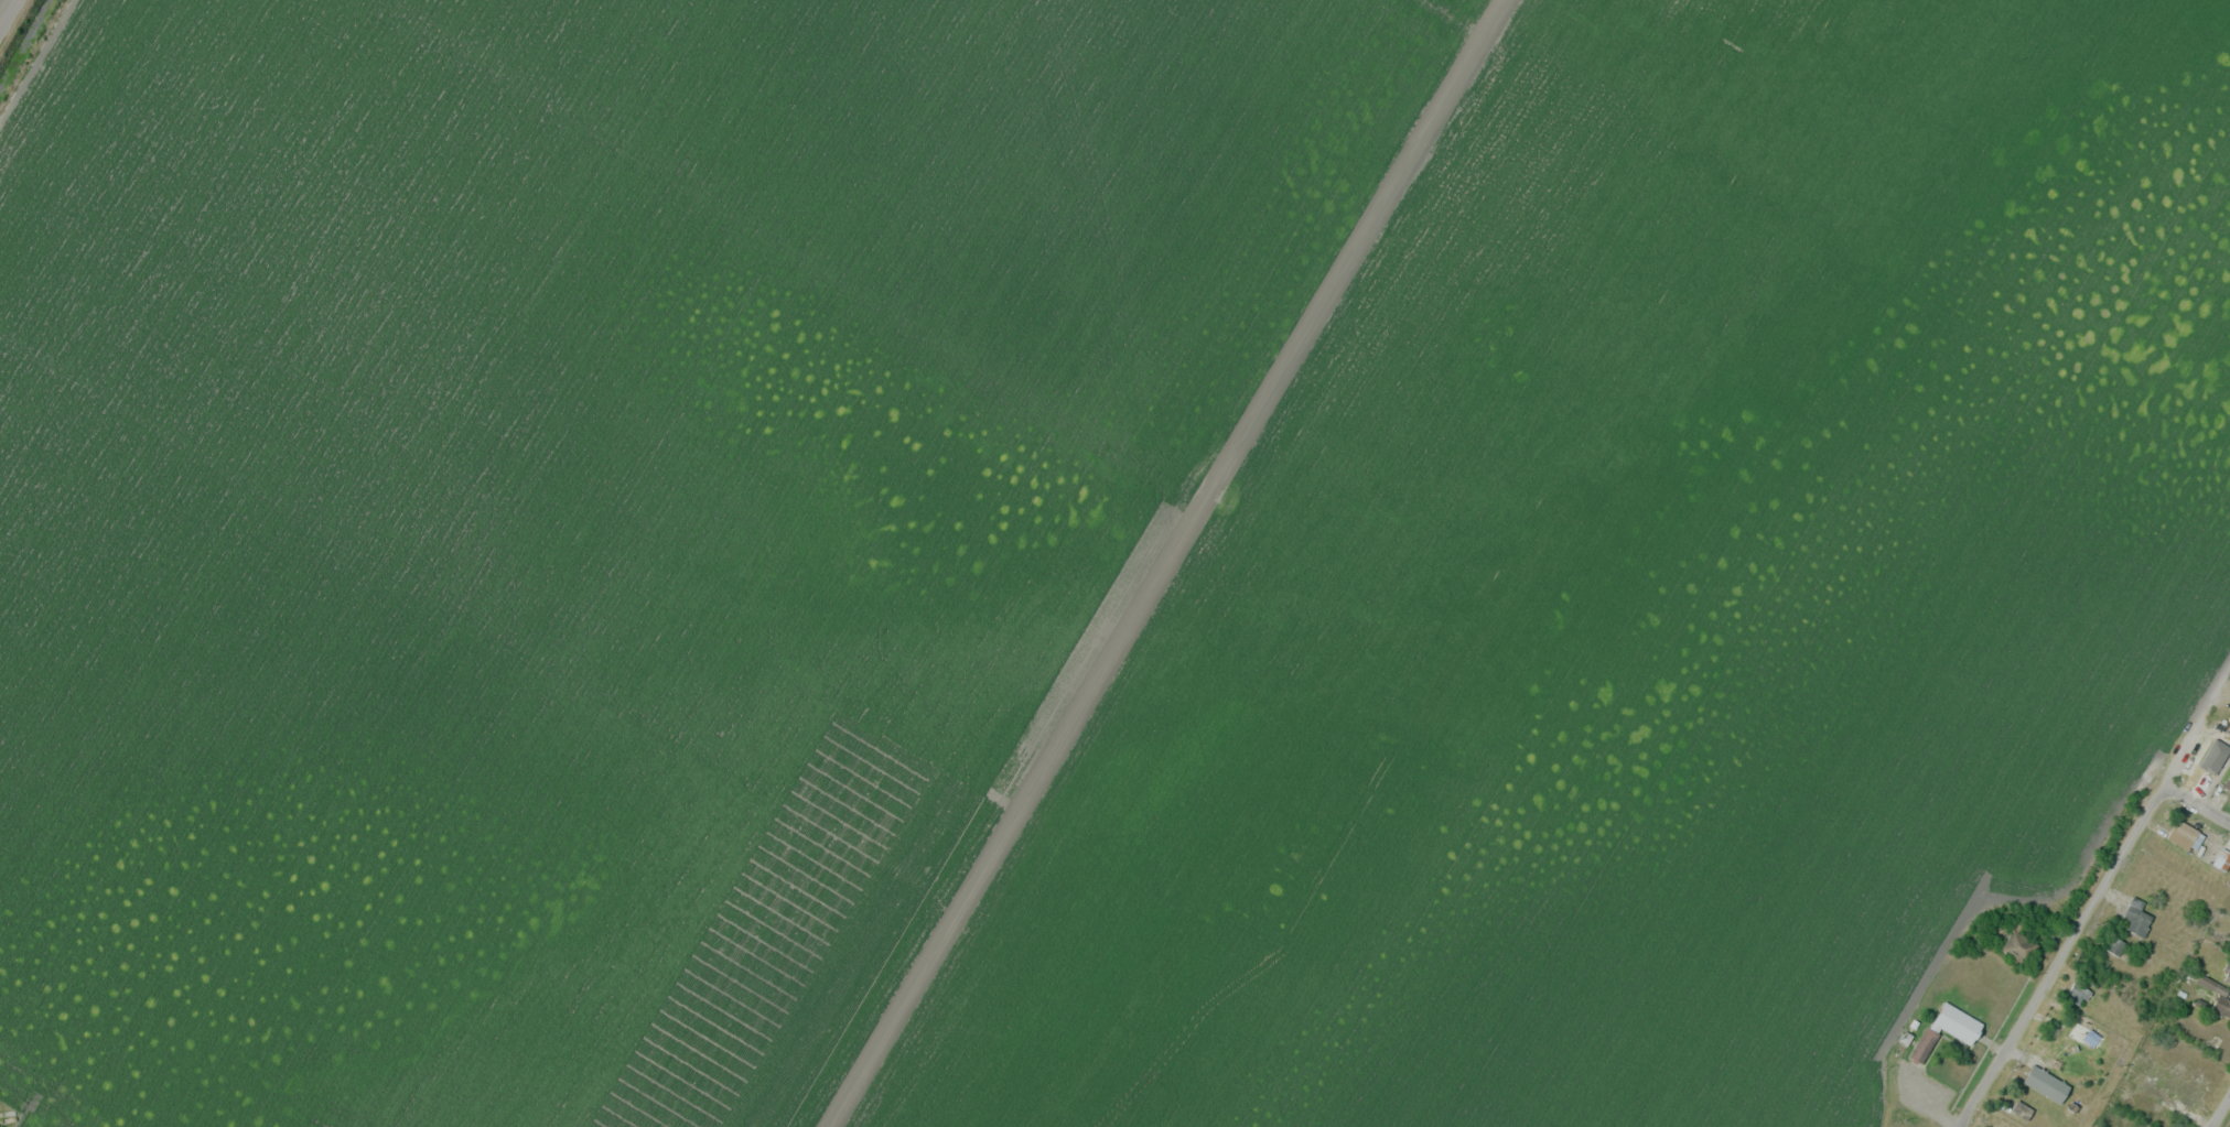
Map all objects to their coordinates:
road: (9, 15)
road: (2197, 724)
building: (2209, 760)
building: (2227, 782)
road: (2197, 803)
building: (2185, 835)
building: (2222, 859)
building: (2135, 918)
building: (2017, 947)
road: (2066, 955)
building: (2079, 990)
building: (2217, 996)
building: (1947, 1029)
building: (2146, 1062)
building: (2048, 1085)
building: (2191, 1088)
building: (2021, 1109)
road: (2221, 1112)

